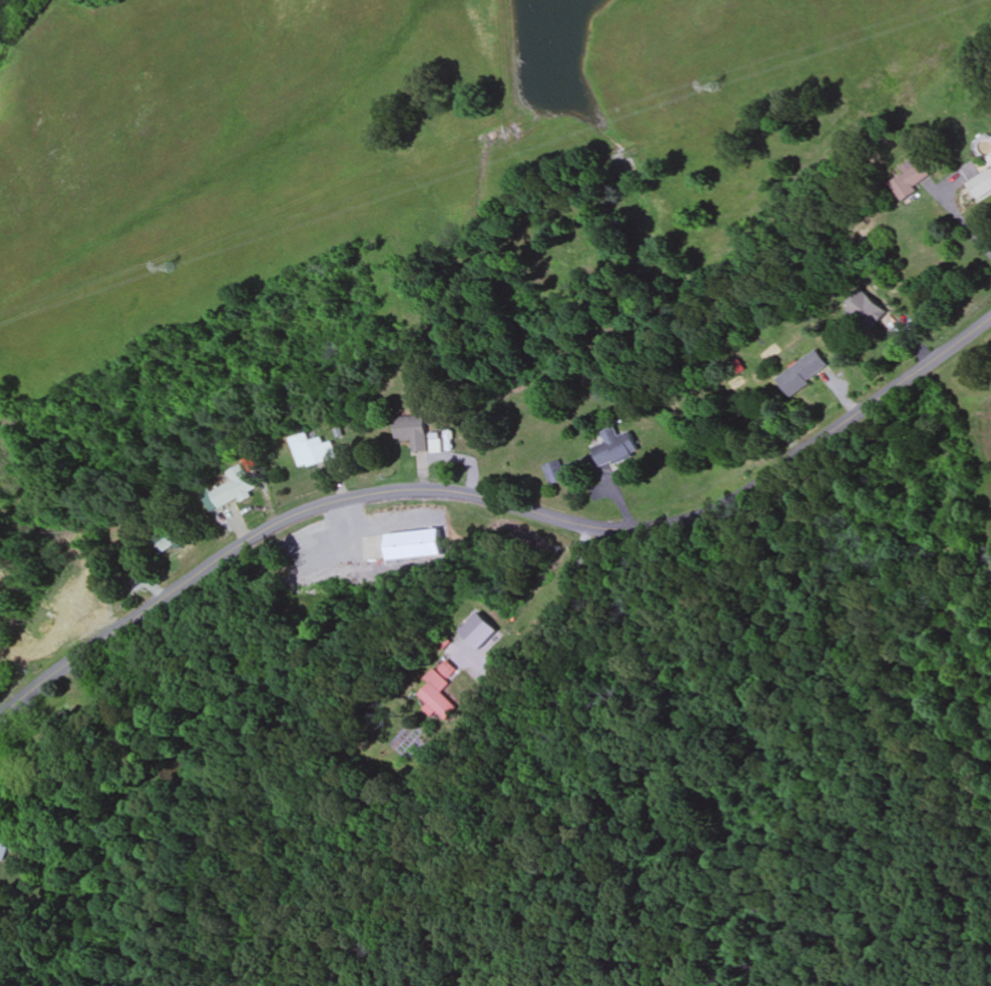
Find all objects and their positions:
building: (990, 160)
building: (981, 184)
building: (864, 310)
building: (802, 374)
building: (412, 432)
building: (615, 447)
building: (312, 451)
building: (554, 473)
building: (233, 488)
road: (493, 496)
building: (414, 545)
building: (81, 614)
road: (549, 619)
building: (436, 692)
park: (675, 807)
building: (4, 851)

